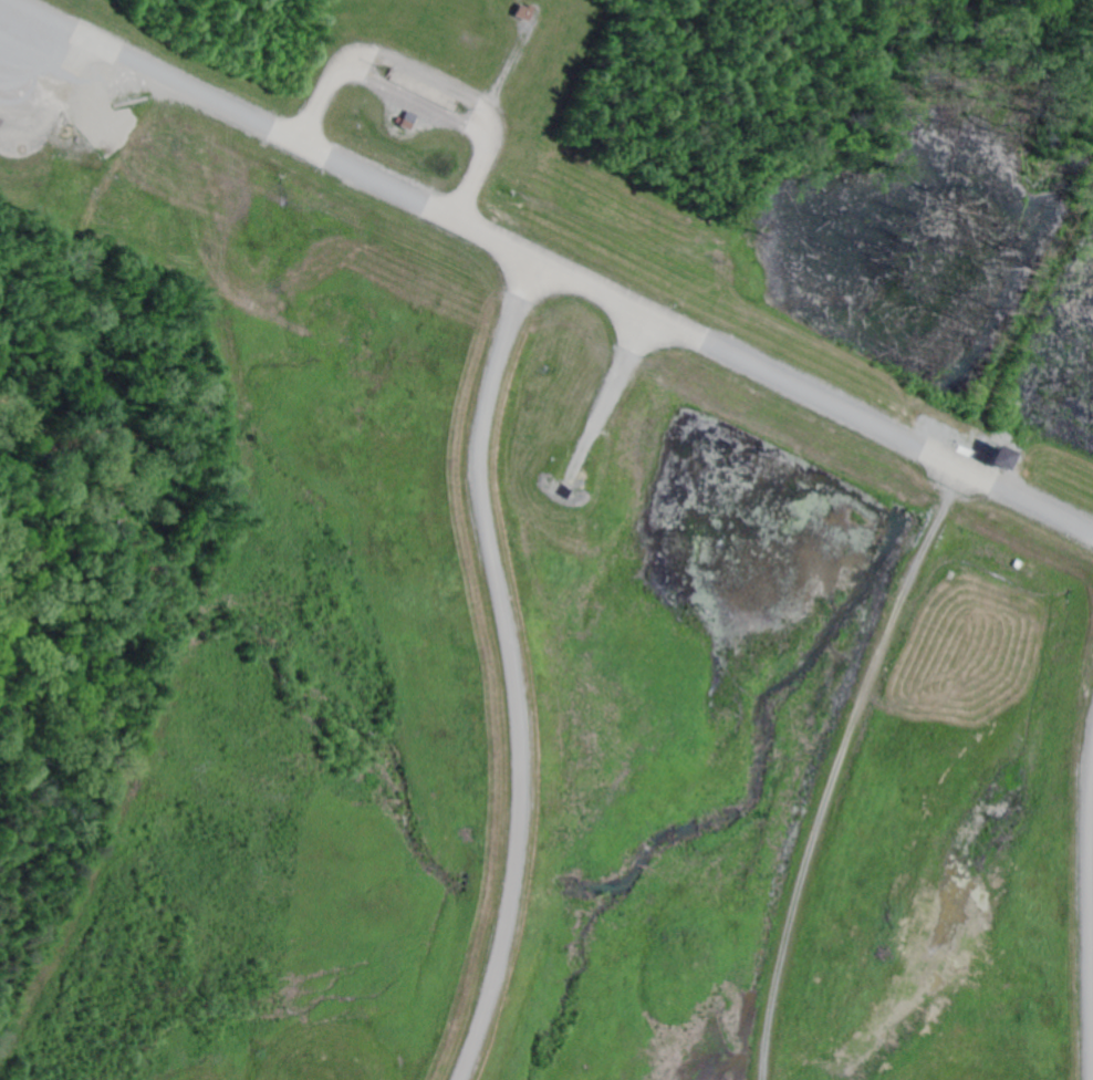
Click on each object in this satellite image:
road: (550, 266)
road: (844, 768)
road: (1091, 900)

